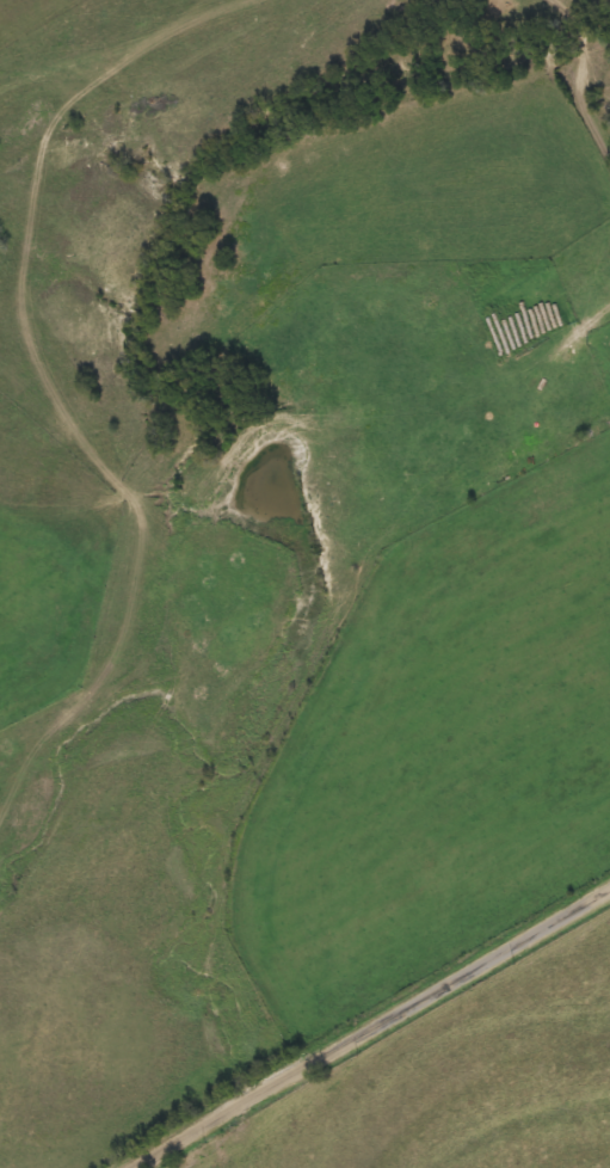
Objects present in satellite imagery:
road: (375, 1031)

